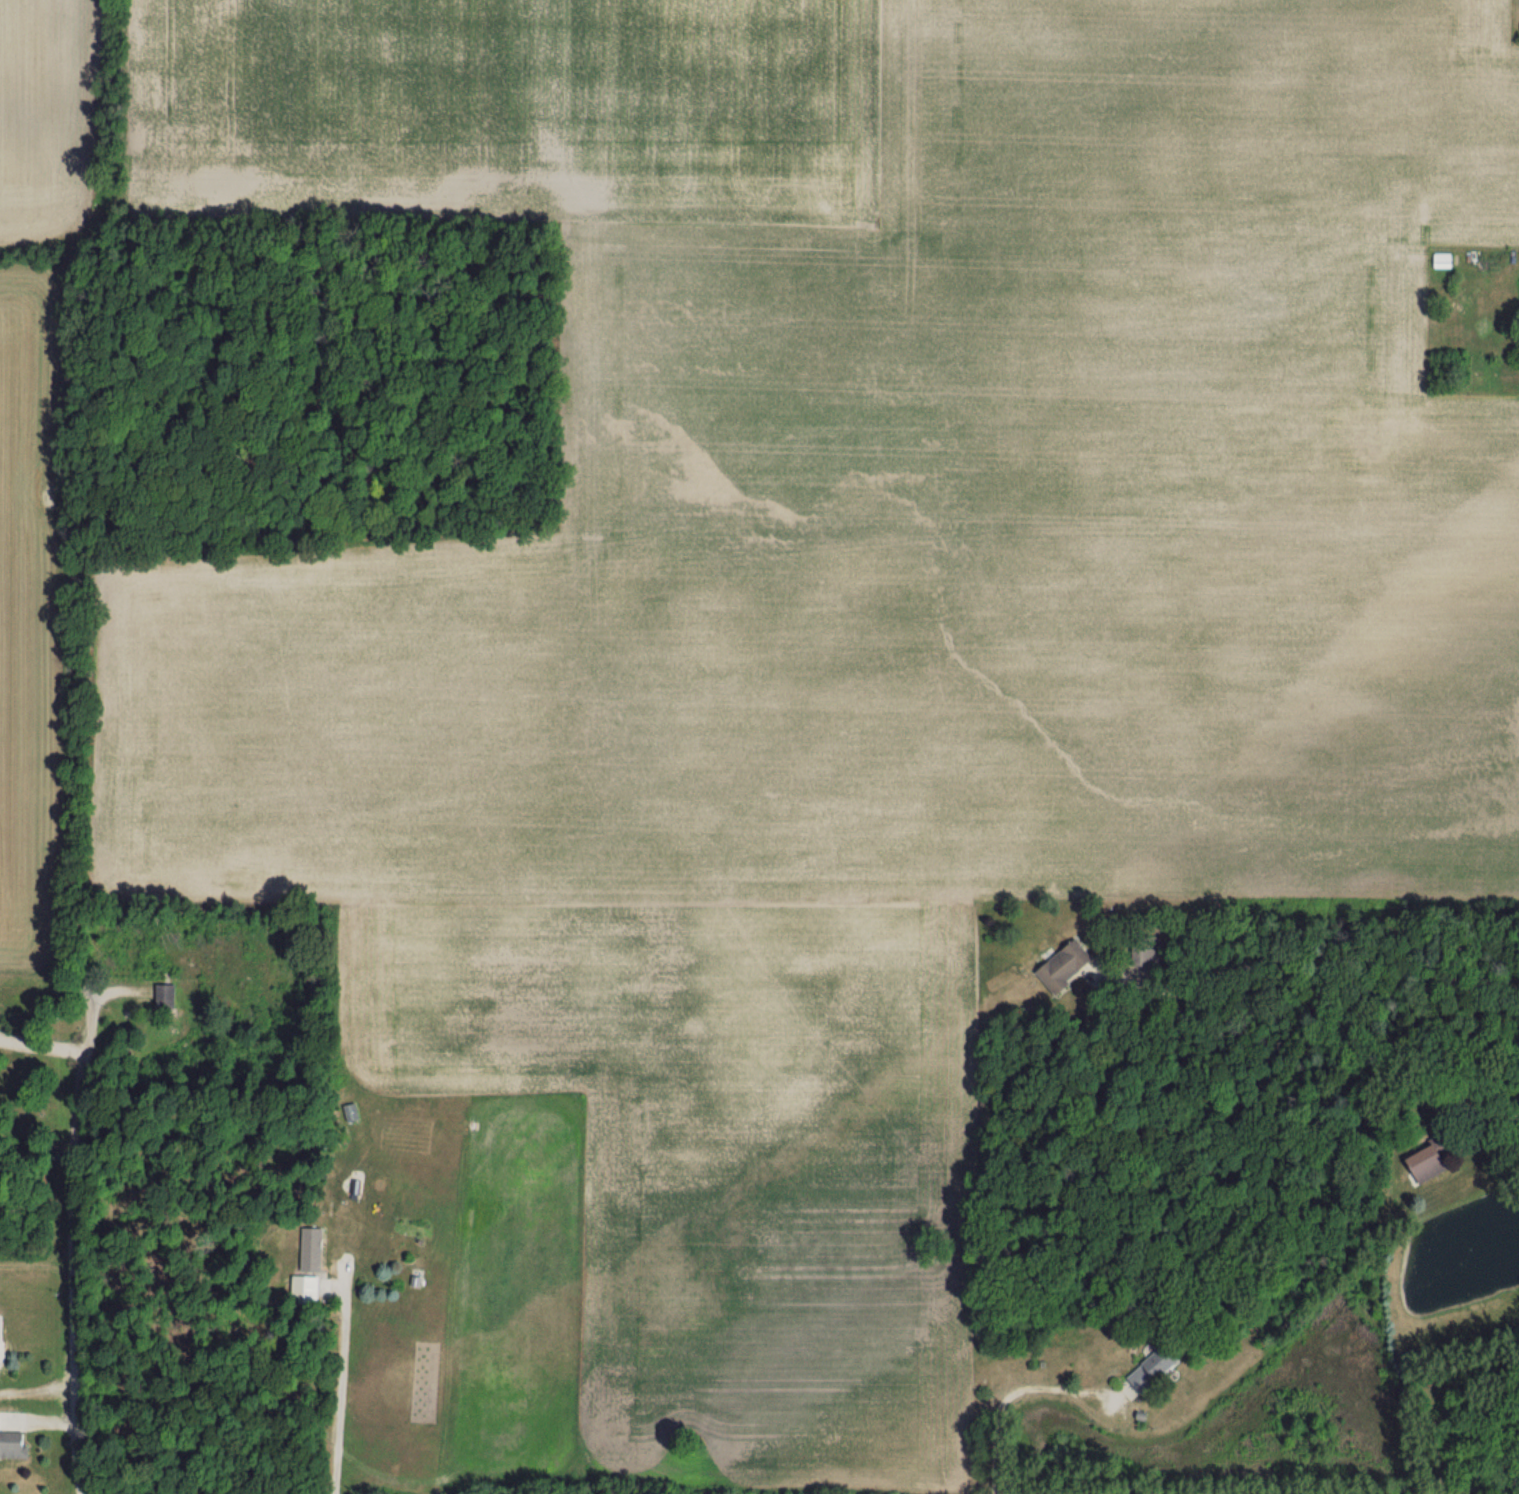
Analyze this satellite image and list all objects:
building: (1448, 259)
road: (1251, 382)
building: (159, 962)
building: (1069, 966)
building: (168, 995)
road: (42, 1043)
building: (353, 1111)
road: (1514, 1120)
building: (1437, 1162)
road: (872, 1211)
road: (70, 1242)
building: (316, 1248)
road: (485, 1266)
building: (309, 1288)
building: (1158, 1369)
road: (331, 1389)
road: (1003, 1390)
building: (14, 1442)

